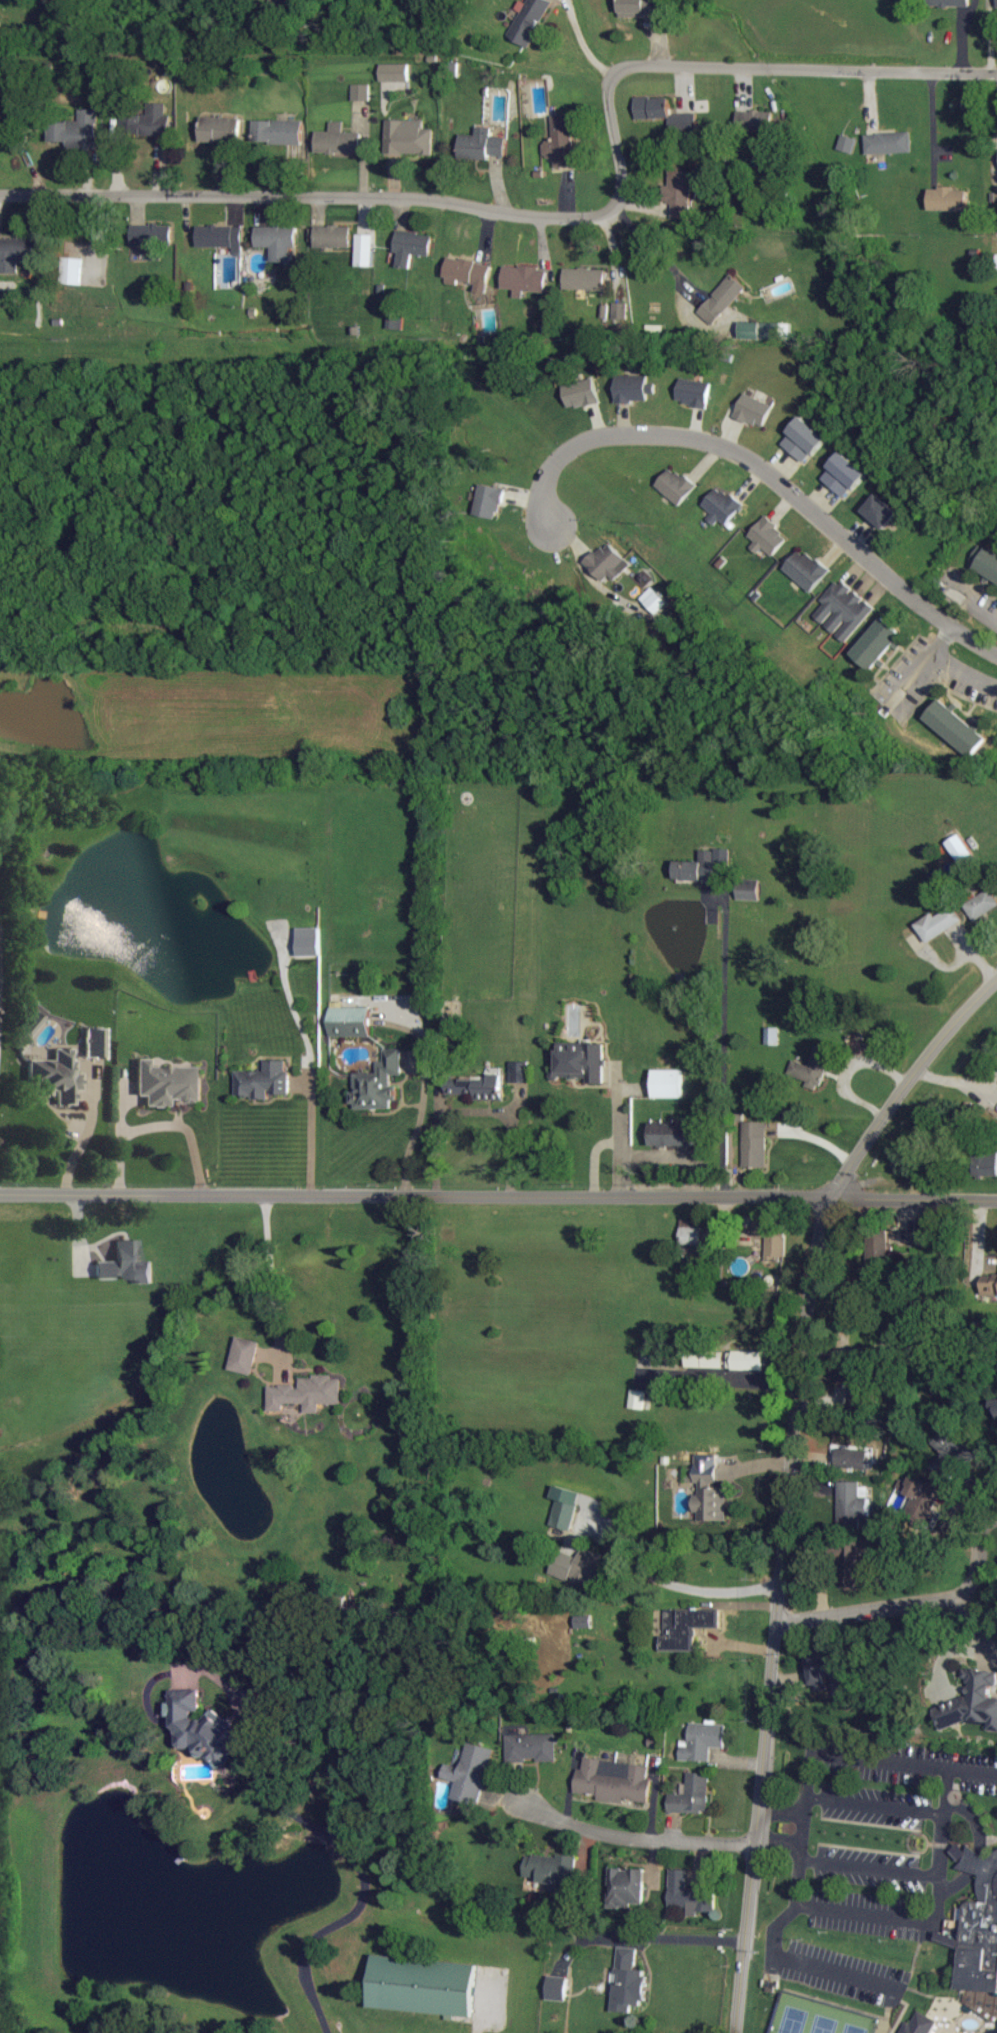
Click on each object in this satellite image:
building: (949, 3)
building: (639, 9)
building: (530, 21)
road: (964, 34)
road: (584, 42)
building: (395, 72)
building: (361, 92)
building: (676, 116)
building: (151, 121)
building: (755, 121)
building: (19, 125)
road: (934, 126)
building: (220, 129)
building: (77, 131)
building: (278, 132)
building: (409, 138)
building: (338, 140)
building: (561, 141)
building: (889, 143)
building: (848, 144)
building: (481, 145)
building: (681, 195)
building: (948, 199)
road: (570, 217)
building: (333, 236)
building: (151, 237)
building: (221, 237)
building: (277, 241)
building: (412, 247)
building: (365, 250)
road: (659, 252)
building: (15, 253)
building: (73, 271)
building: (469, 273)
building: (585, 279)
building: (524, 280)
building: (723, 299)
building: (621, 310)
building: (766, 331)
building: (634, 387)
building: (694, 391)
building: (581, 392)
building: (754, 409)
building: (804, 438)
road: (766, 470)
building: (844, 473)
building: (676, 484)
building: (490, 500)
building: (722, 504)
building: (881, 510)
building: (768, 536)
building: (988, 562)
building: (608, 563)
building: (807, 569)
building: (655, 599)
building: (845, 609)
building: (956, 726)
building: (703, 865)
building: (749, 889)
building: (982, 904)
building: (939, 923)
building: (309, 941)
road: (0, 1014)
building: (349, 1021)
building: (32, 1024)
building: (95, 1042)
road: (722, 1047)
building: (581, 1061)
road: (313, 1066)
building: (813, 1067)
building: (519, 1071)
building: (56, 1075)
building: (264, 1080)
building: (167, 1083)
building: (378, 1083)
building: (668, 1083)
building: (481, 1086)
road: (162, 1125)
road: (419, 1126)
building: (672, 1134)
road: (79, 1138)
road: (622, 1140)
building: (755, 1143)
road: (594, 1158)
building: (985, 1163)
road: (498, 1196)
building: (691, 1231)
building: (773, 1239)
building: (125, 1264)
road: (274, 1280)
building: (989, 1286)
building: (244, 1355)
building: (691, 1359)
building: (719, 1359)
building: (747, 1360)
building: (307, 1393)
building: (638, 1399)
building: (836, 1399)
building: (948, 1455)
building: (850, 1457)
road: (790, 1477)
building: (852, 1501)
building: (925, 1502)
building: (565, 1507)
building: (853, 1563)
building: (581, 1566)
road: (683, 1587)
road: (931, 1600)
building: (584, 1621)
building: (687, 1627)
building: (823, 1668)
building: (972, 1702)
building: (201, 1728)
building: (703, 1741)
building: (532, 1747)
building: (471, 1774)
building: (615, 1781)
road: (944, 1781)
building: (693, 1794)
road: (871, 1804)
road: (780, 1807)
road: (797, 1821)
road: (325, 1833)
road: (634, 1837)
road: (776, 1843)
road: (866, 1867)
building: (551, 1868)
park: (879, 1883)
building: (627, 1887)
building: (690, 1895)
road: (857, 1911)
parking lot: (909, 1920)
building: (978, 1925)
road: (669, 1937)
road: (800, 1962)
building: (628, 1982)
building: (422, 1986)
building: (557, 1988)
road: (485, 2016)
park: (816, 2017)
building: (920, 2024)

